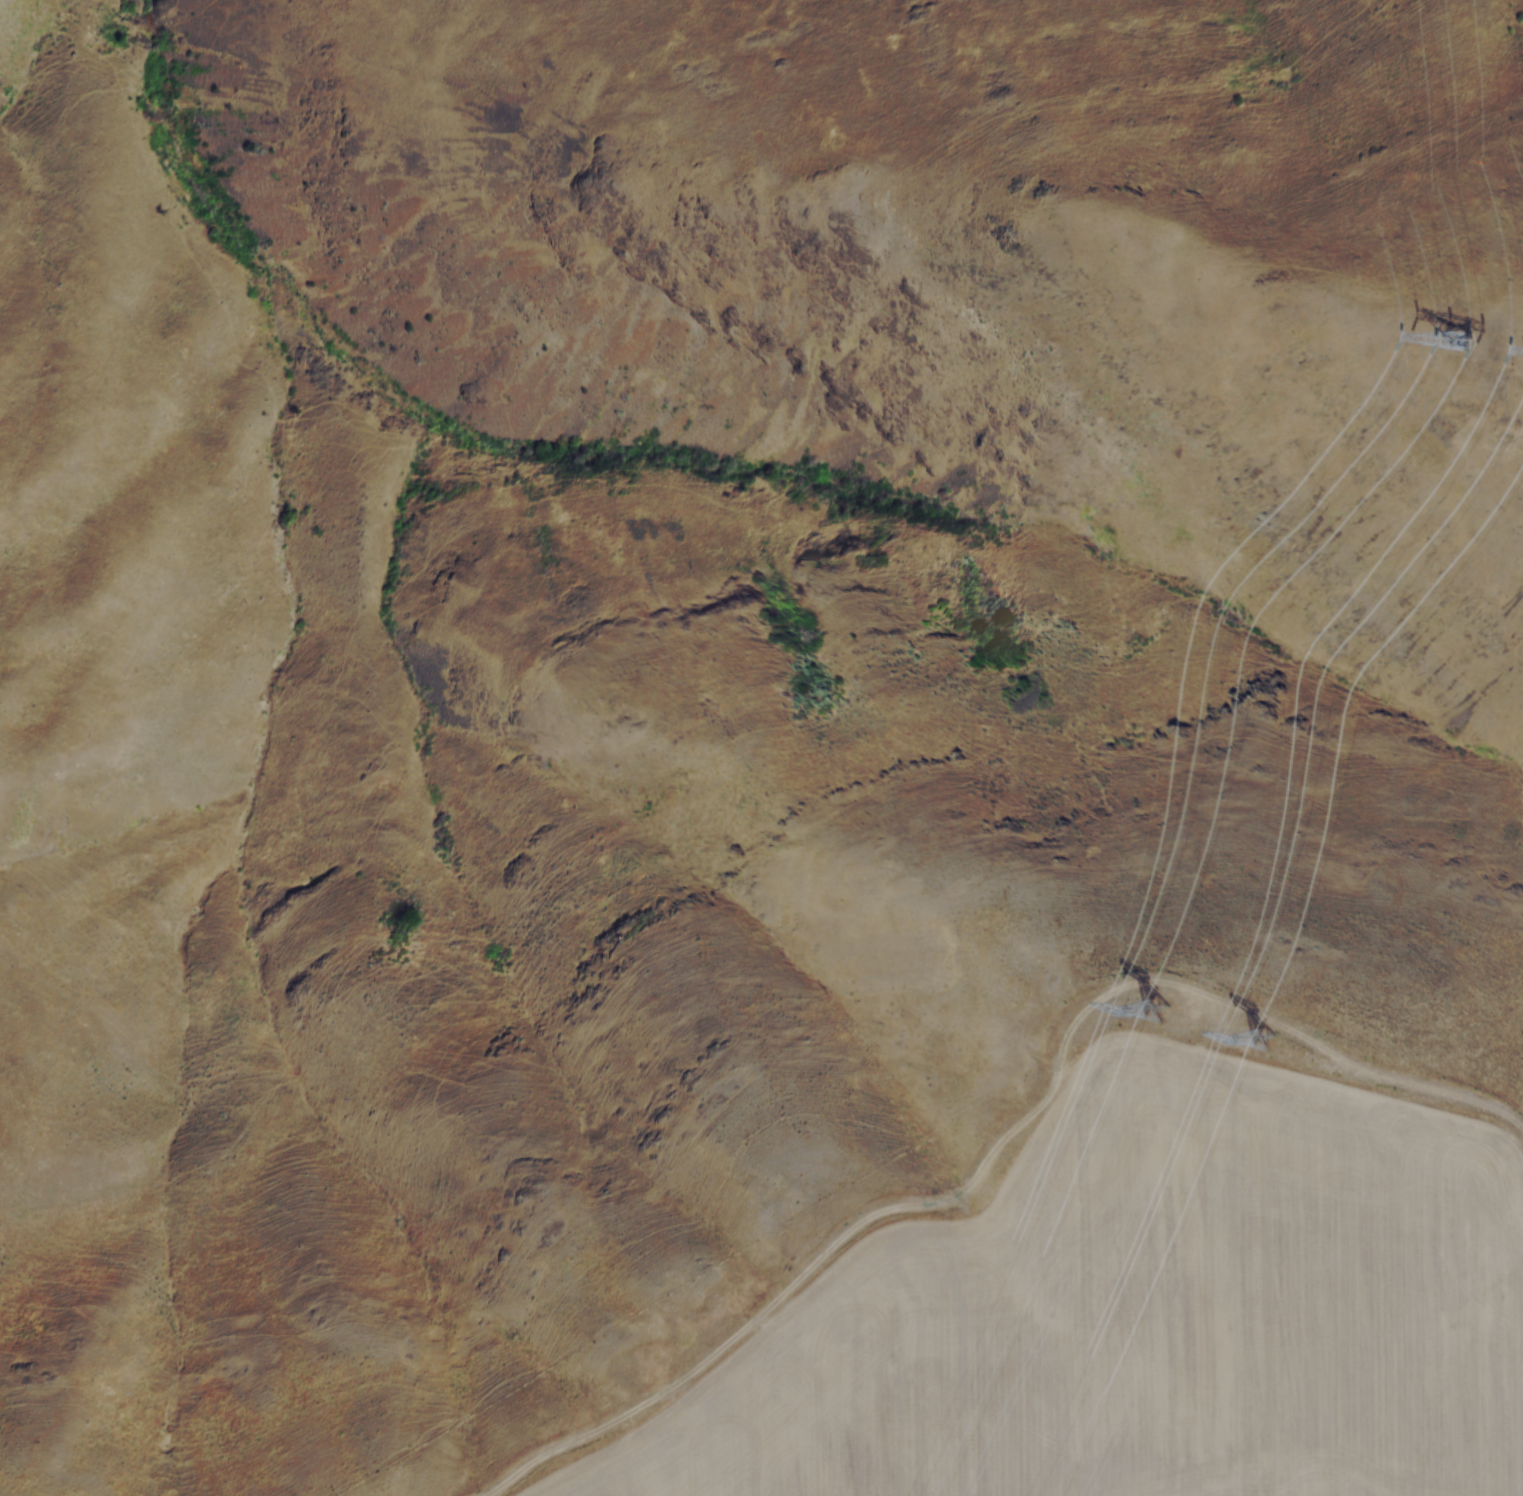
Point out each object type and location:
power tower: (1469, 349)
power tower: (1172, 1004)
power tower: (1278, 1050)

